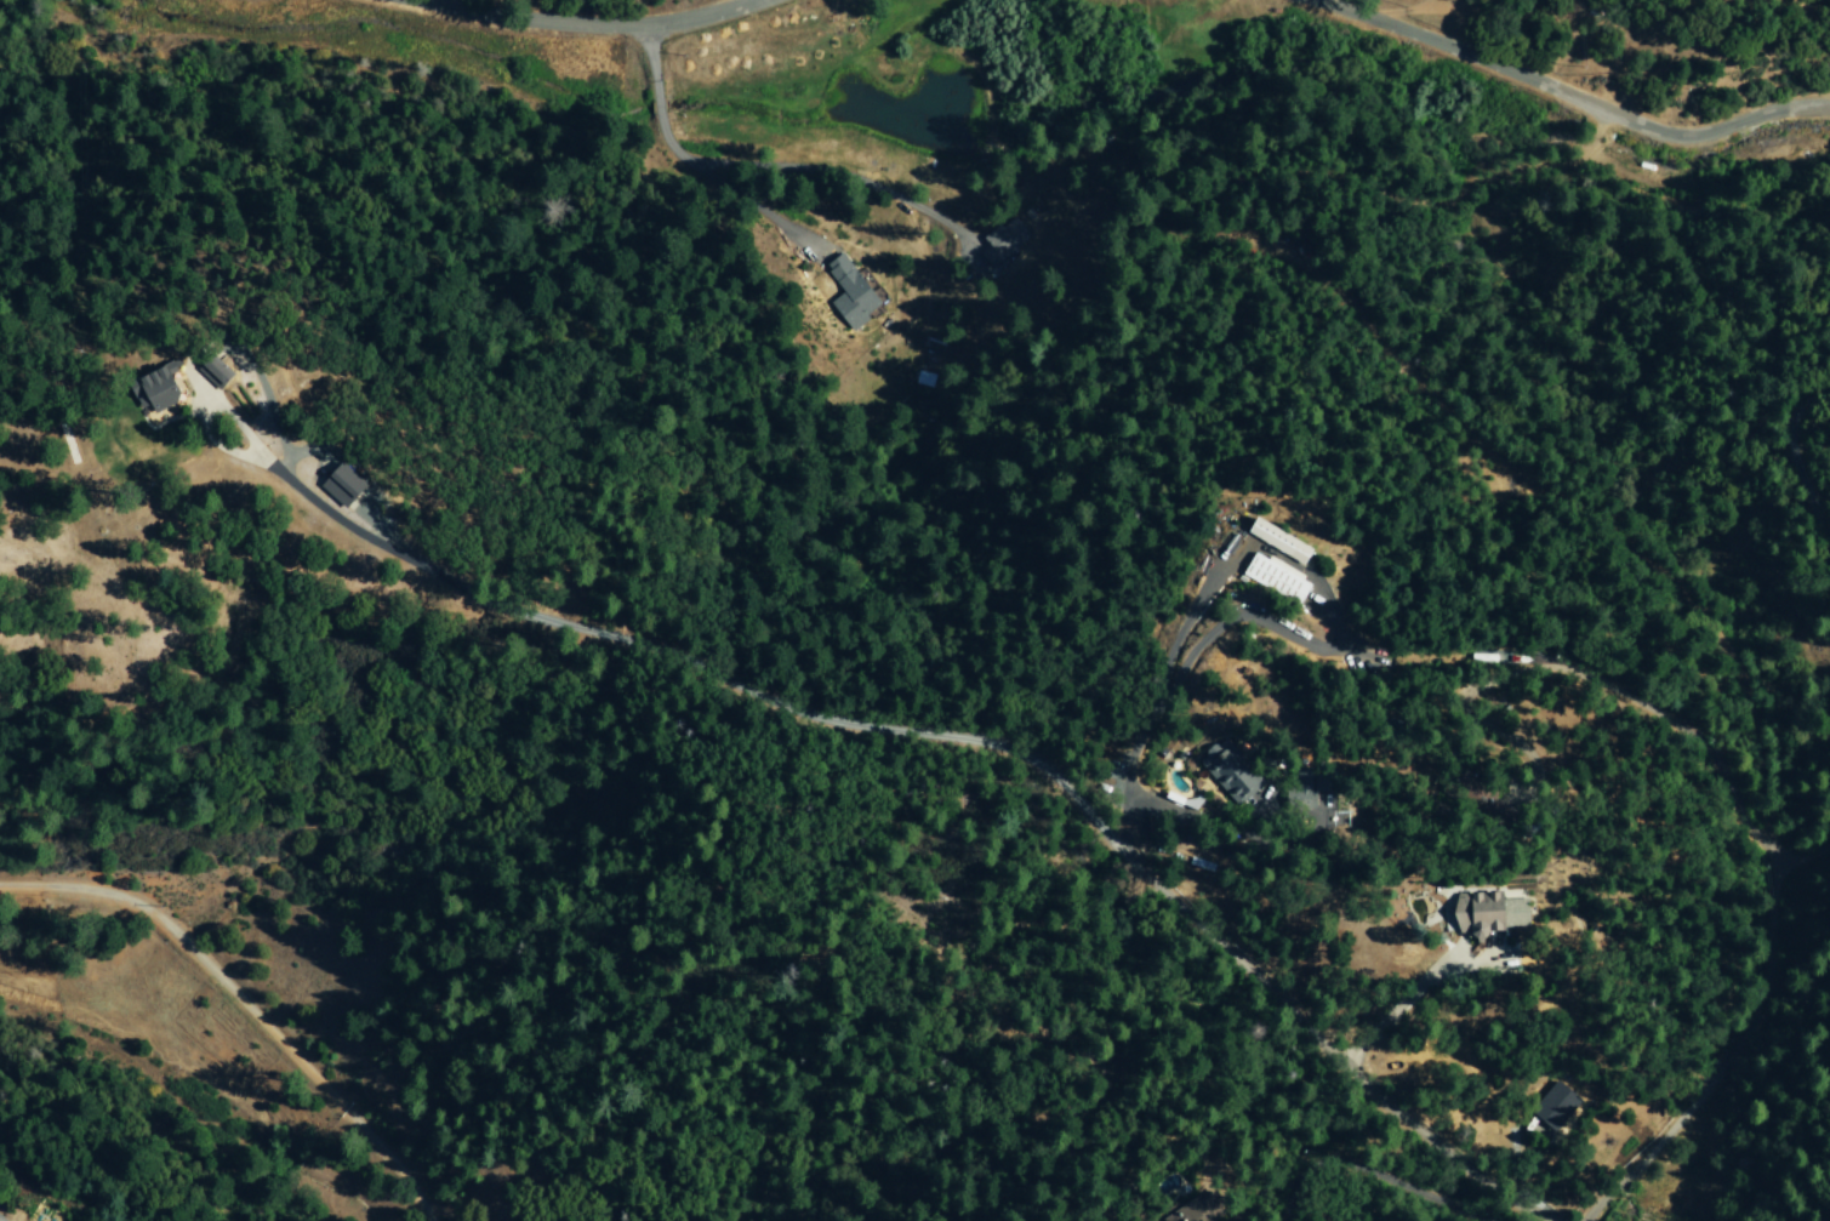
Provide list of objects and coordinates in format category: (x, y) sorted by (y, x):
road: (758, 2)
road: (568, 33)
road: (1546, 99)
road: (1603, 129)
road: (684, 156)
building: (849, 293)
building: (210, 370)
road: (1412, 371)
building: (148, 390)
road: (193, 412)
road: (1788, 447)
building: (340, 484)
building: (1276, 541)
building: (1276, 580)
road: (1298, 637)
road: (1623, 690)
road: (1155, 700)
road: (979, 744)
building: (1226, 770)
building: (1317, 816)
building: (1487, 914)
road: (1395, 1000)
road: (243, 1004)
road: (1729, 1039)
building: (1555, 1107)
road: (1366, 1170)
building: (1185, 1211)

